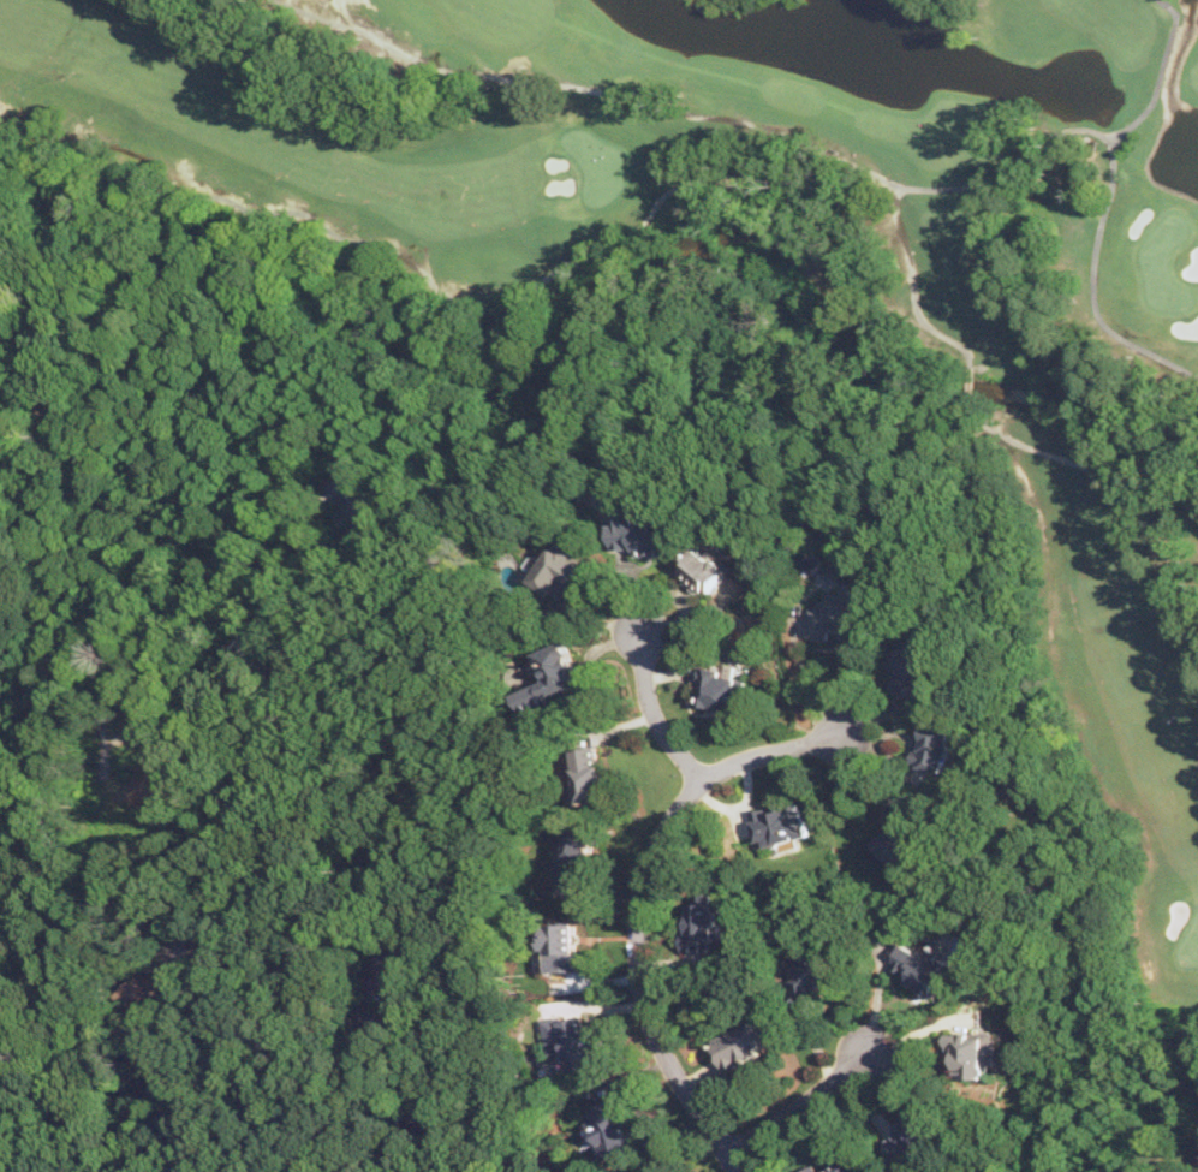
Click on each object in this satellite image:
park: (740, 266)
road: (74, 446)
building: (362, 495)
building: (639, 535)
road: (234, 557)
building: (561, 569)
building: (708, 570)
building: (844, 614)
road: (115, 642)
building: (912, 662)
building: (555, 673)
building: (722, 686)
road: (651, 708)
building: (934, 746)
building: (588, 774)
building: (779, 822)
building: (901, 833)
building: (578, 852)
road: (642, 903)
building: (703, 918)
road: (208, 922)
building: (565, 947)
building: (920, 966)
building: (817, 974)
building: (386, 975)
building: (161, 992)
building: (572, 1041)
building: (741, 1042)
building: (970, 1053)
road: (1099, 1061)
road: (203, 1072)
road: (300, 1087)
road: (800, 1103)
building: (610, 1125)
building: (910, 1134)
road: (336, 1149)
building: (848, 1165)
building: (812, 1168)
building: (55, 1171)

